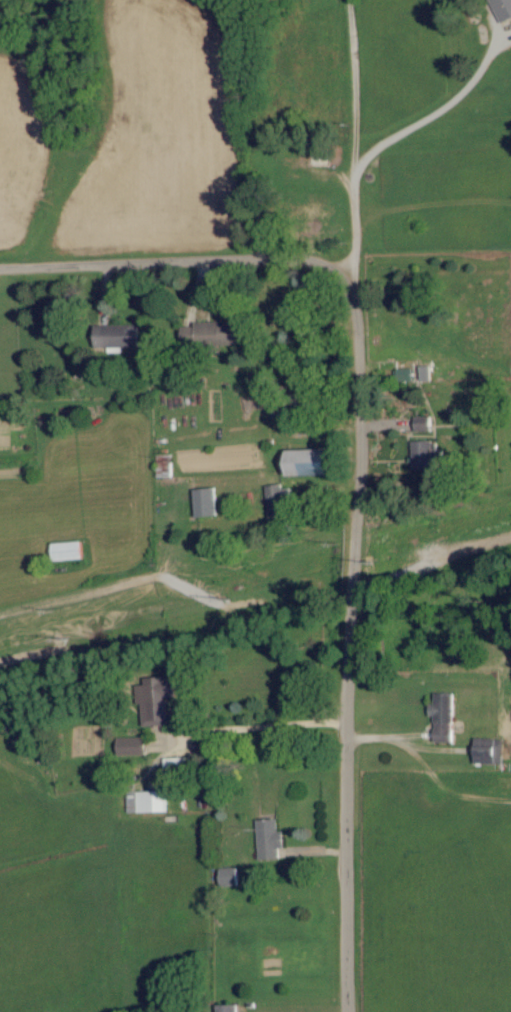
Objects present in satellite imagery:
building: (500, 9)
road: (435, 114)
road: (344, 128)
road: (177, 264)
building: (215, 334)
building: (126, 336)
building: (424, 374)
building: (403, 375)
building: (422, 424)
building: (422, 456)
building: (298, 463)
building: (167, 466)
building: (274, 497)
building: (207, 502)
building: (72, 551)
road: (351, 634)
building: (163, 700)
building: (445, 717)
building: (134, 746)
building: (489, 750)
building: (180, 768)
building: (149, 802)
building: (272, 839)
building: (231, 877)
building: (229, 1008)

